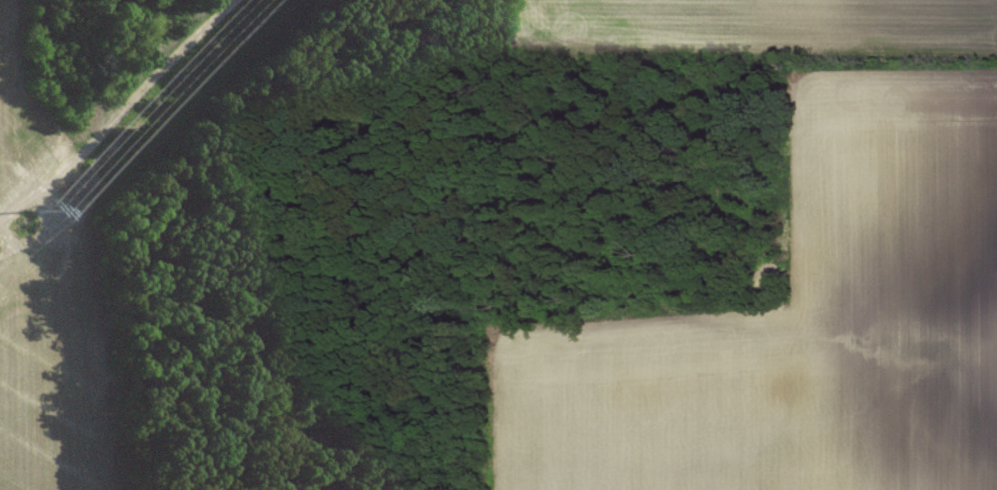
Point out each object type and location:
power tower: (24, 226)

